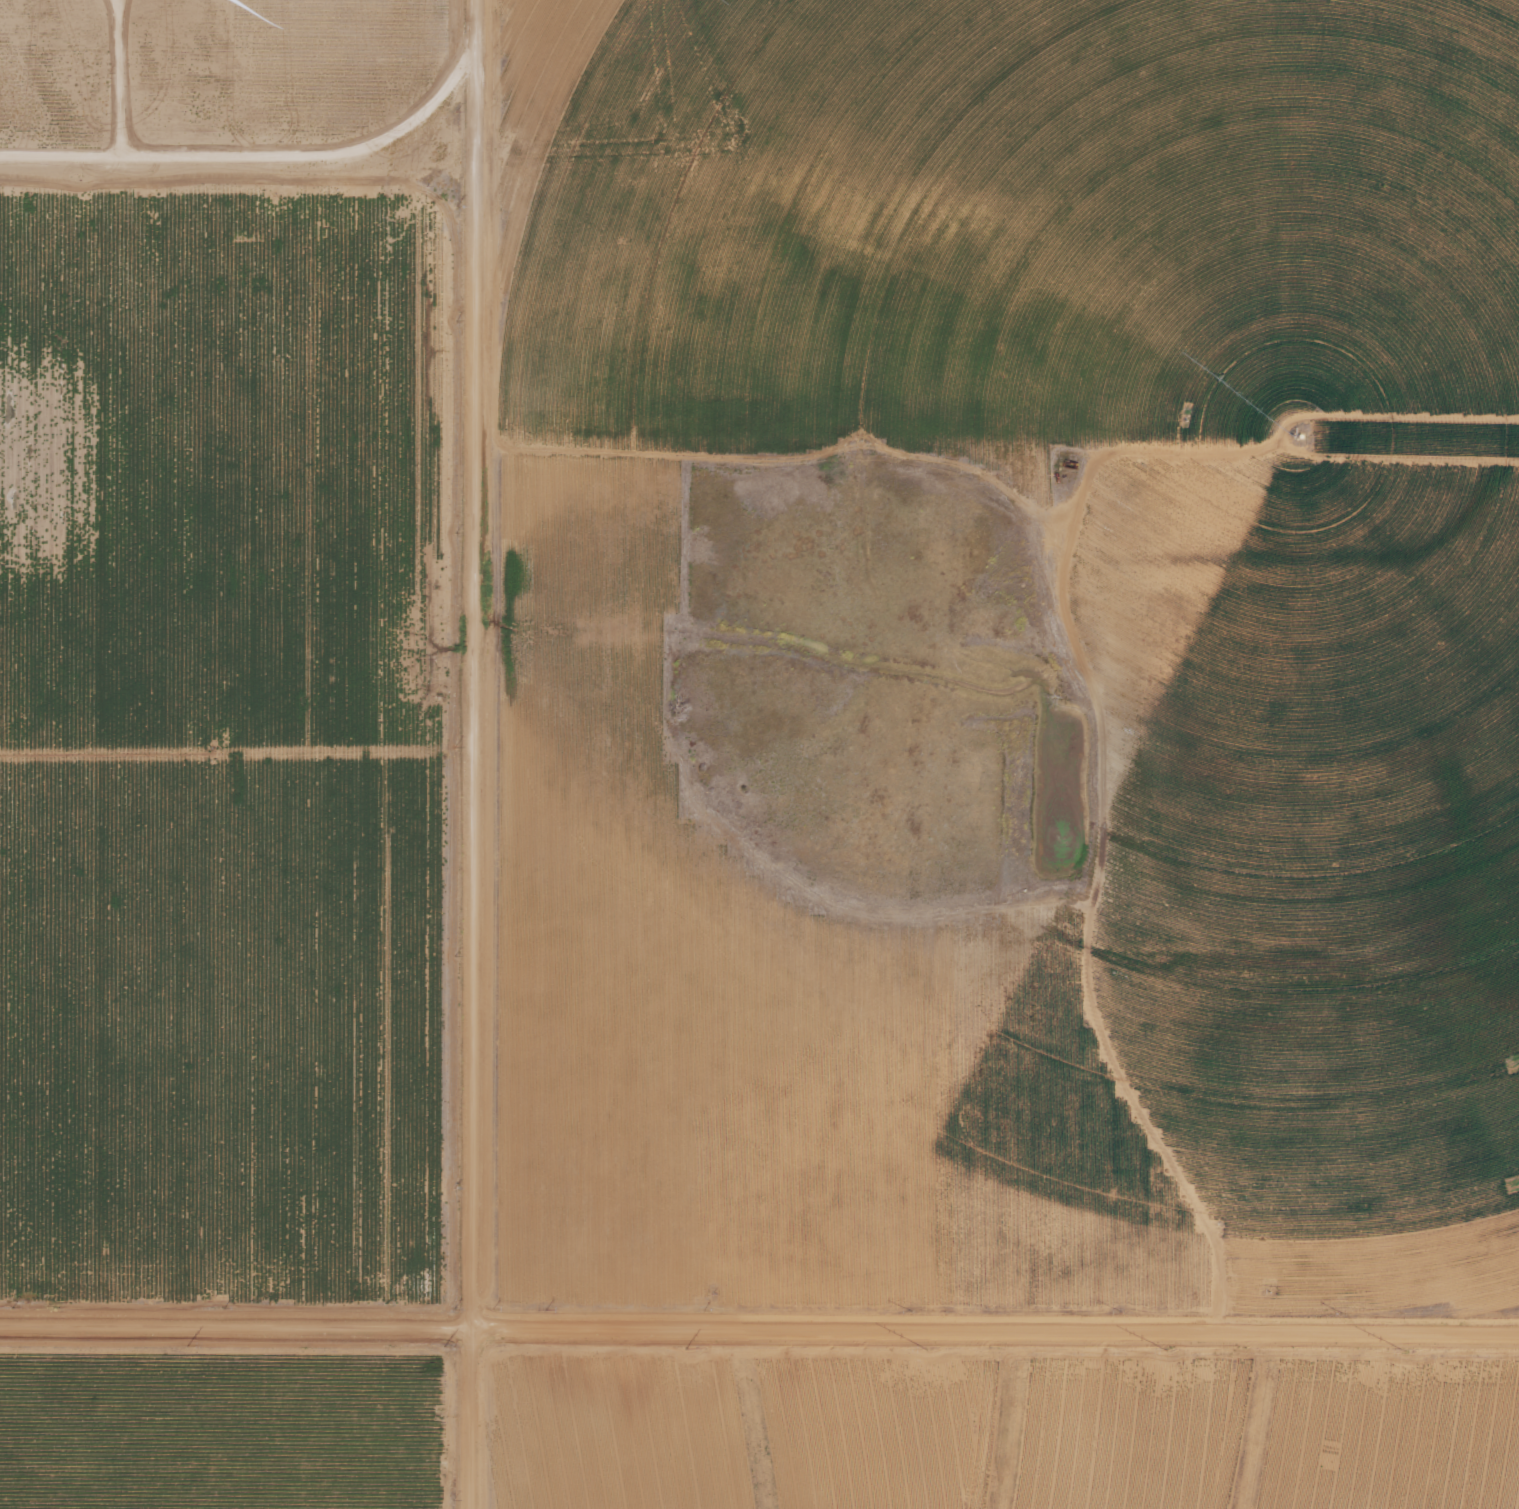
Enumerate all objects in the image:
road: (478, 754)
road: (759, 1334)

